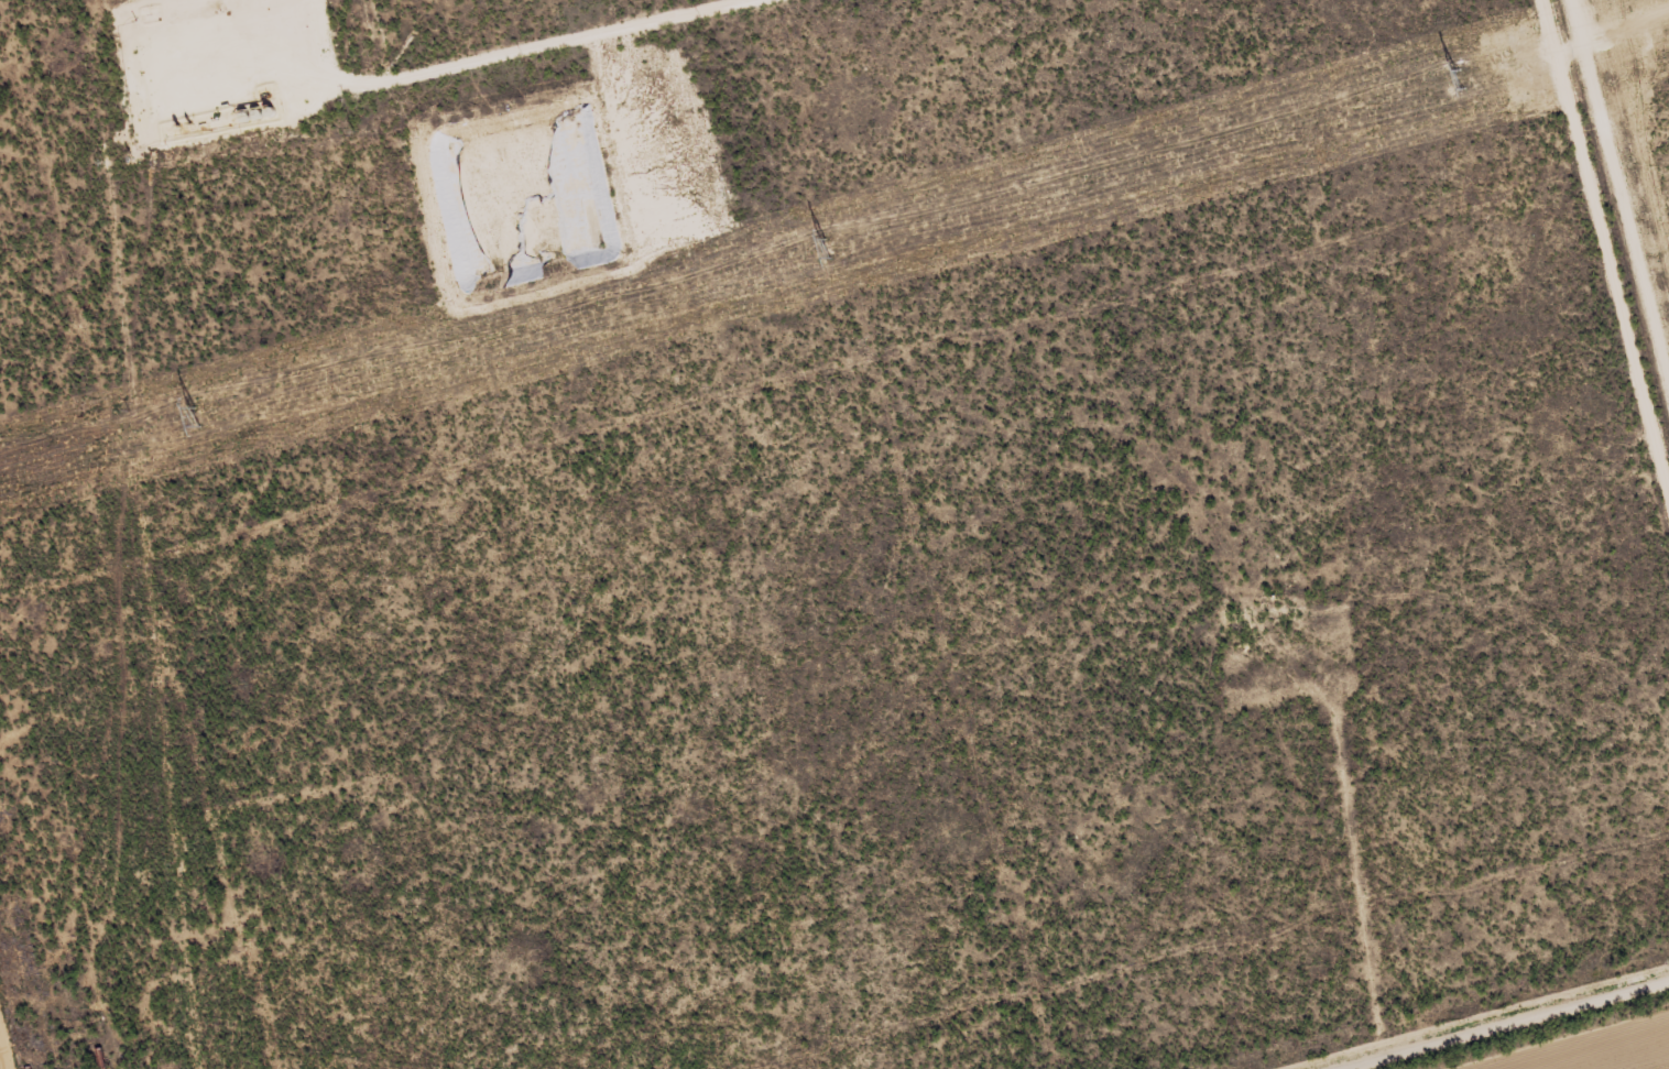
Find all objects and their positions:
power tower: (1455, 80)
power tower: (829, 248)
power tower: (197, 417)
road: (1529, 1030)

